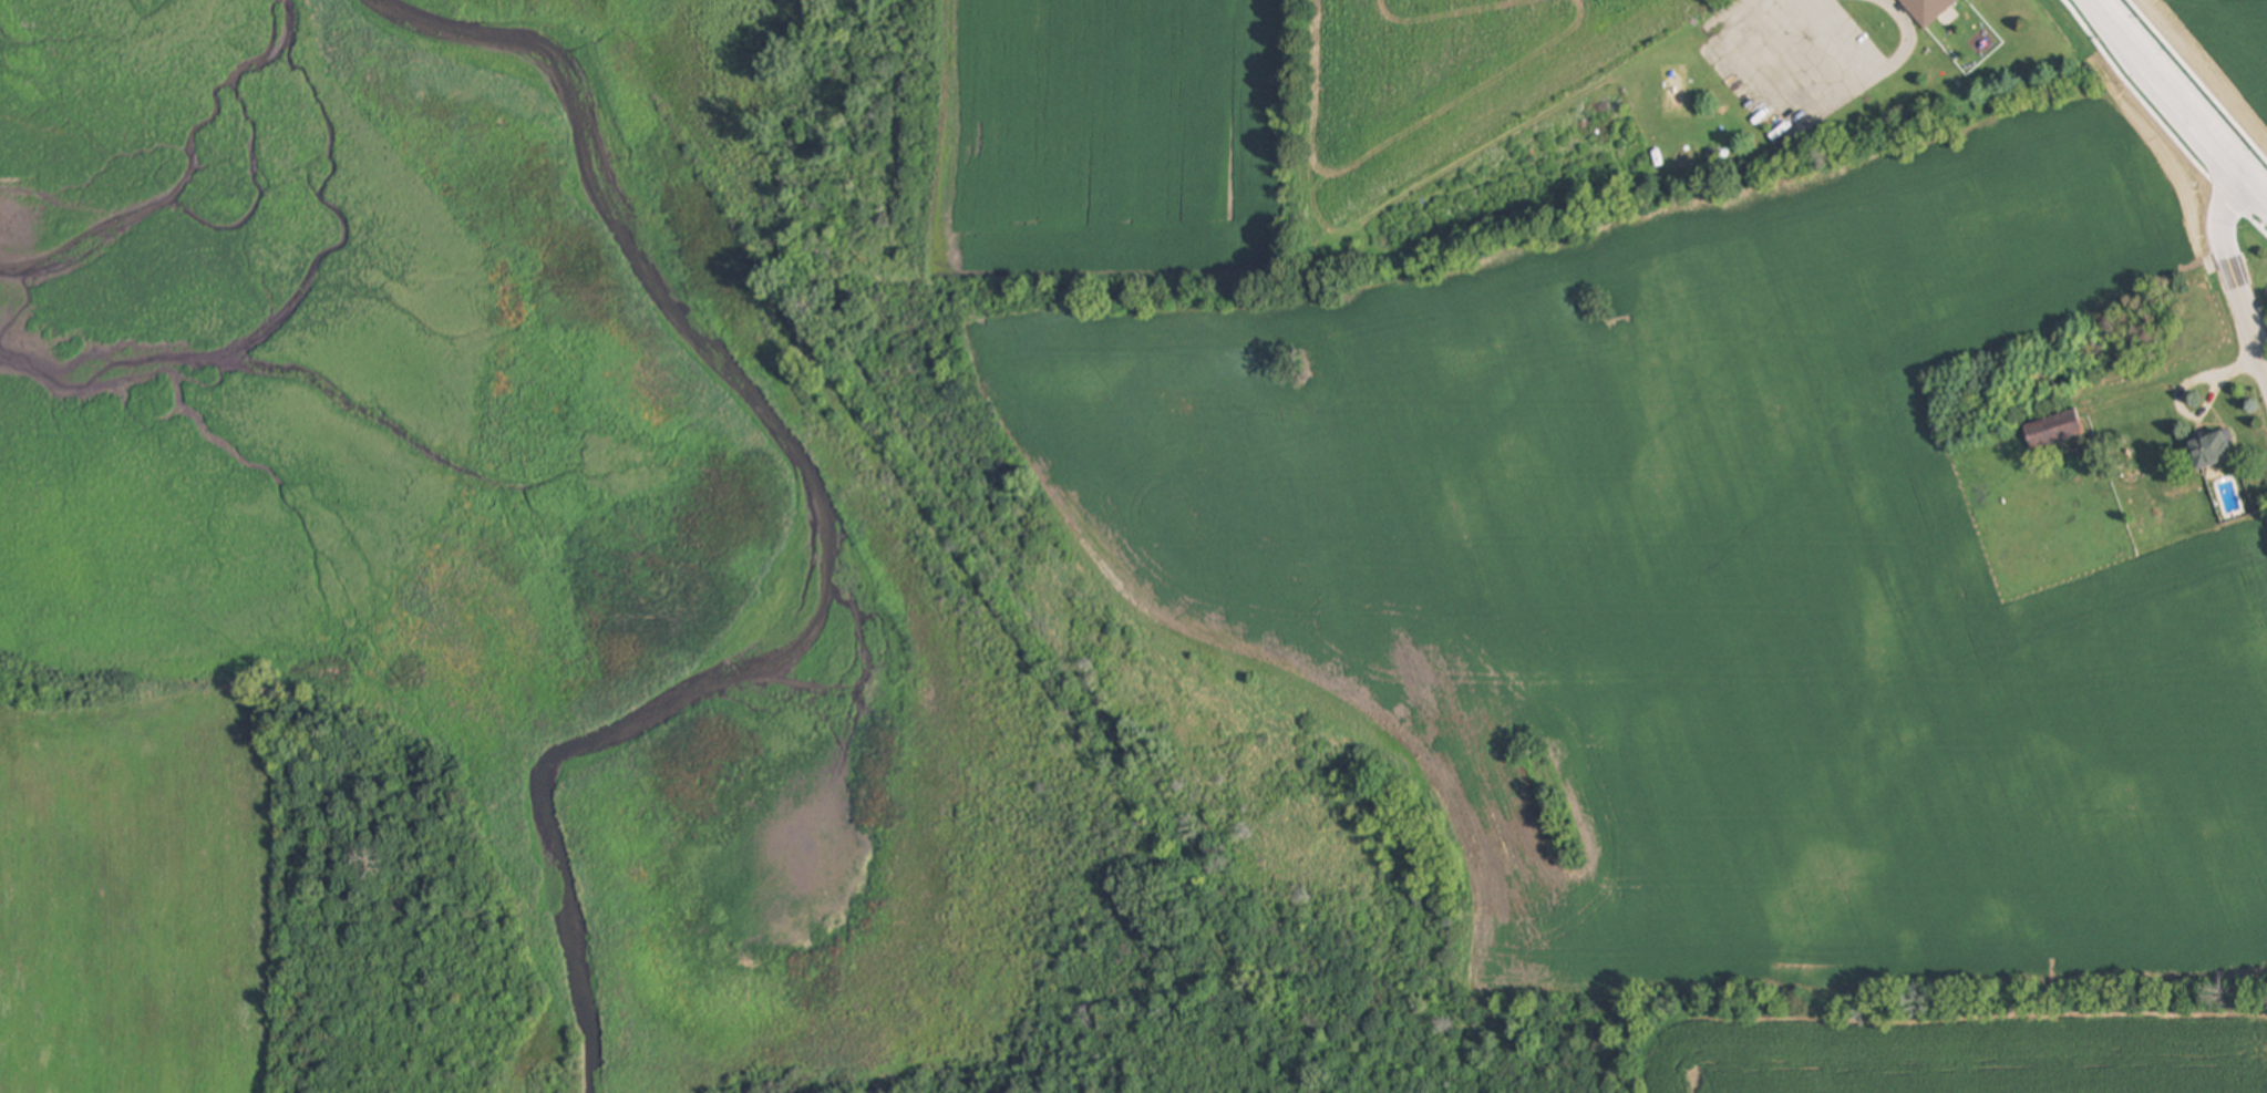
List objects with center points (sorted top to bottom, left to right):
building: (1928, 11)
crop: (2219, 55)
road: (1883, 69)
road: (2181, 99)
road: (2233, 271)
building: (2053, 431)
building: (2212, 451)
crop: (1650, 524)
crop: (138, 884)

